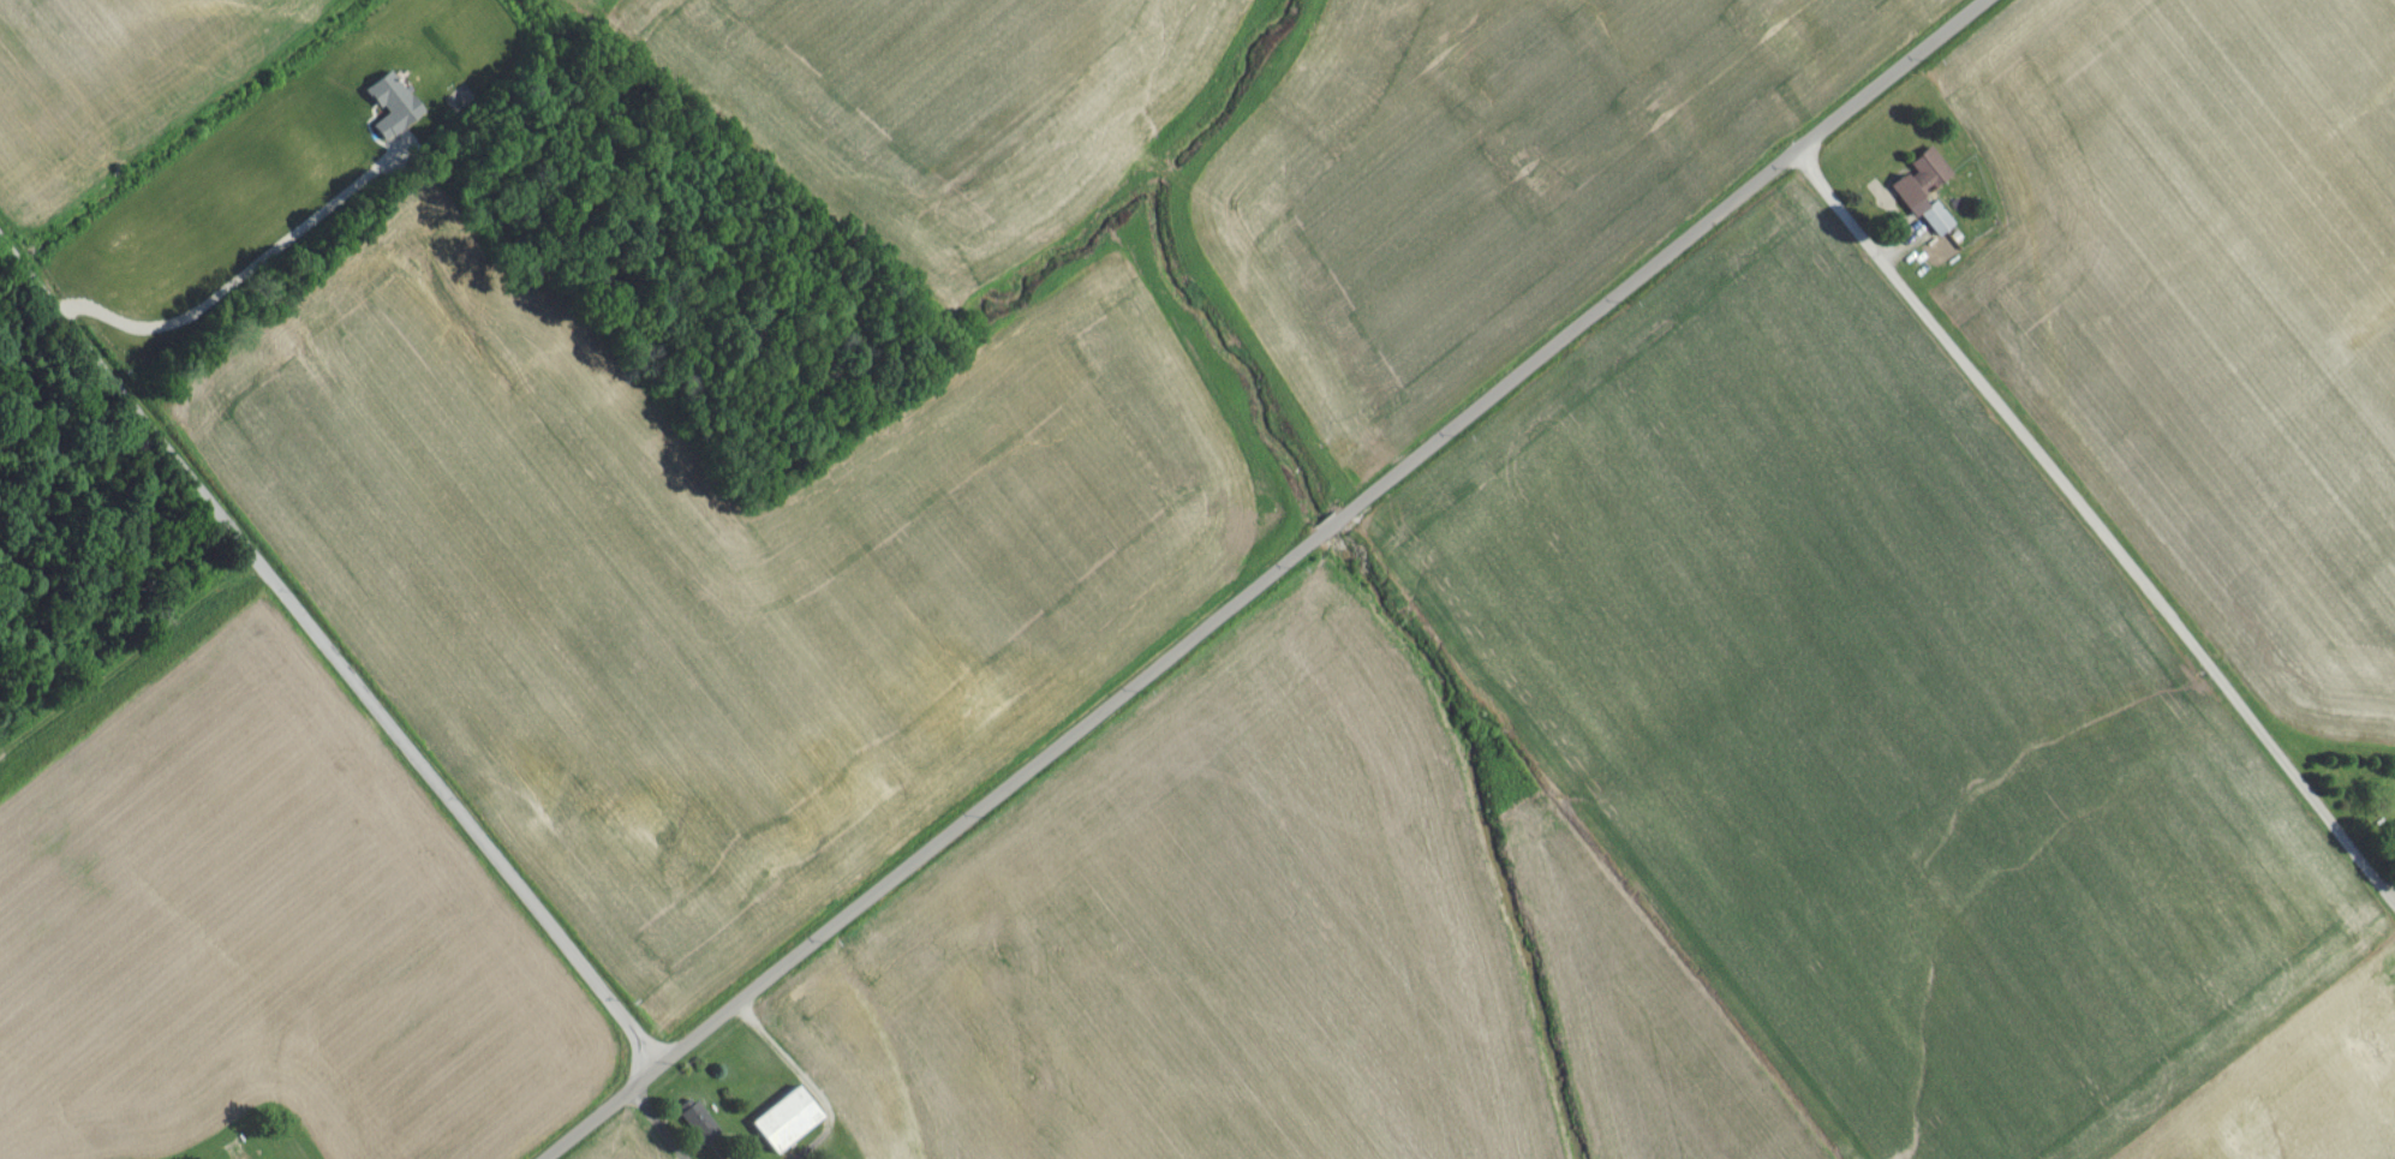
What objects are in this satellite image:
building: (1922, 197)
road: (244, 279)
road: (2095, 524)
road: (1266, 578)
road: (325, 655)
building: (2390, 844)
building: (781, 1128)
building: (693, 1131)

